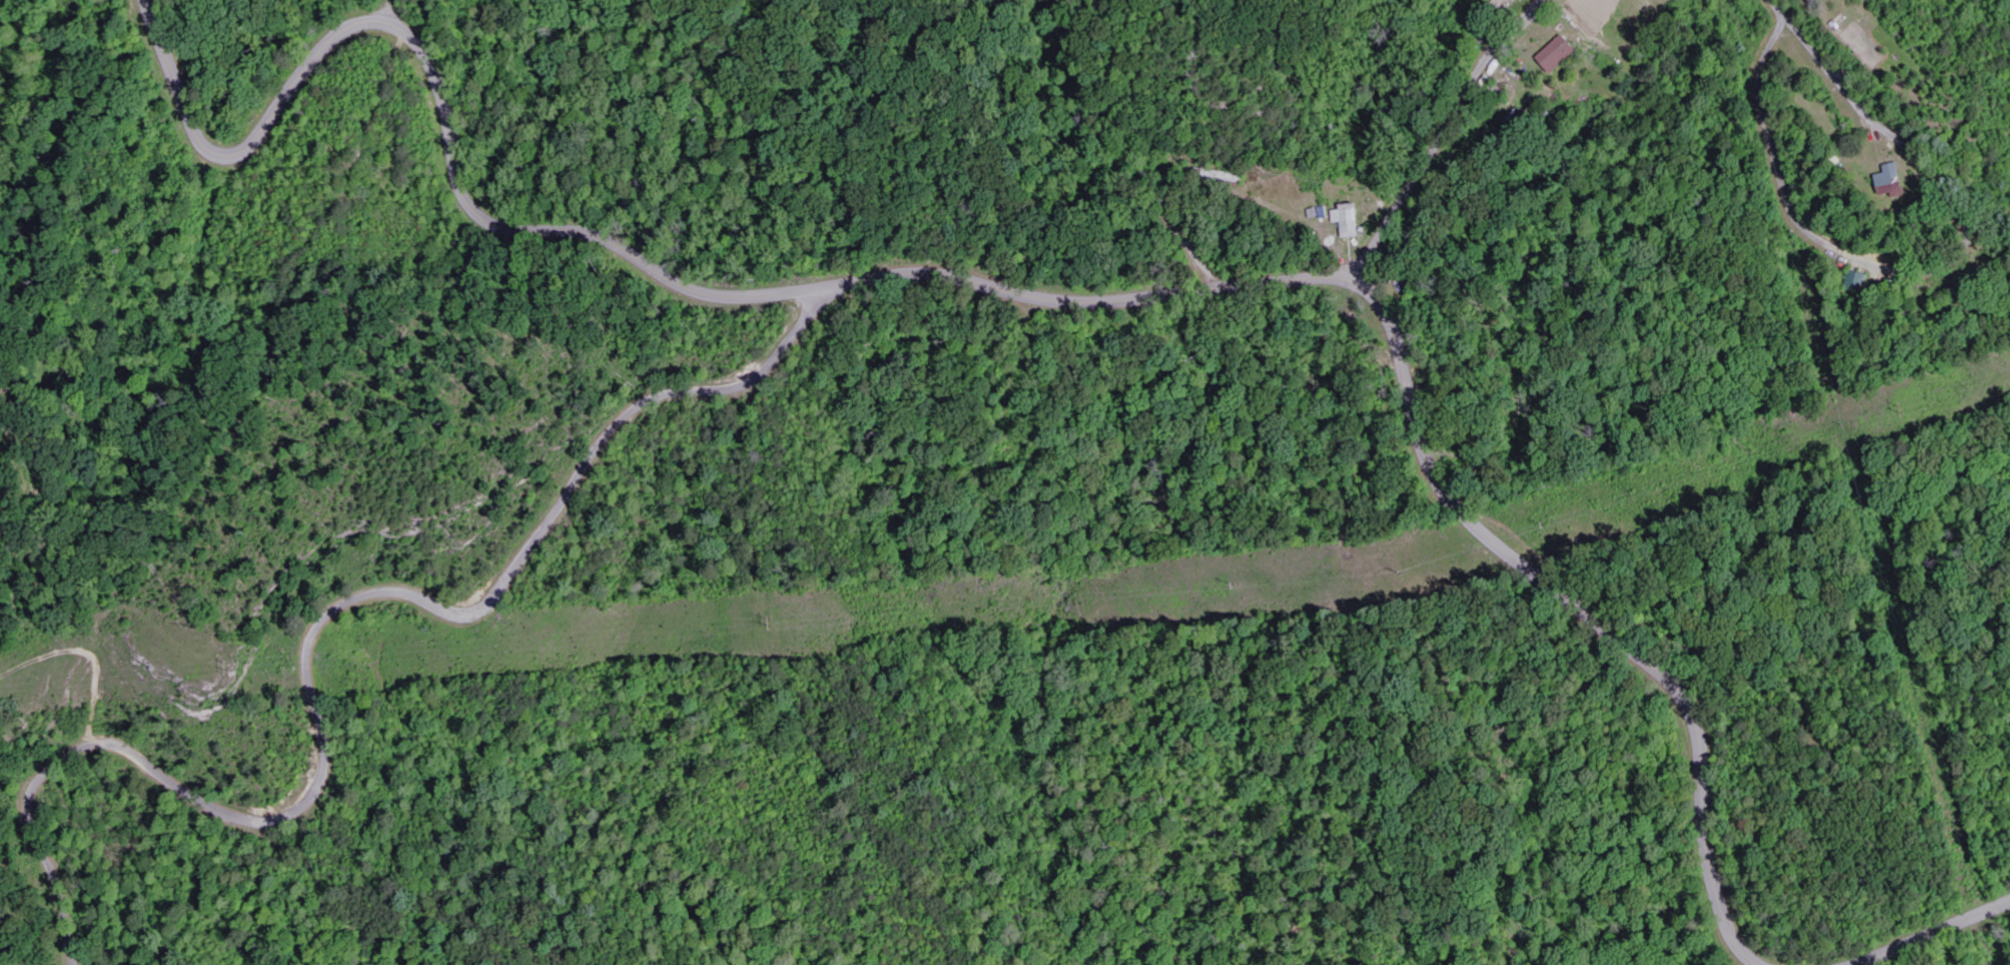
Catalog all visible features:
building: (1560, 53)
road: (1877, 72)
road: (1442, 138)
building: (1896, 175)
building: (1900, 190)
building: (1351, 220)
road: (1185, 237)
road: (1011, 294)
road: (317, 629)
road: (1936, 934)

